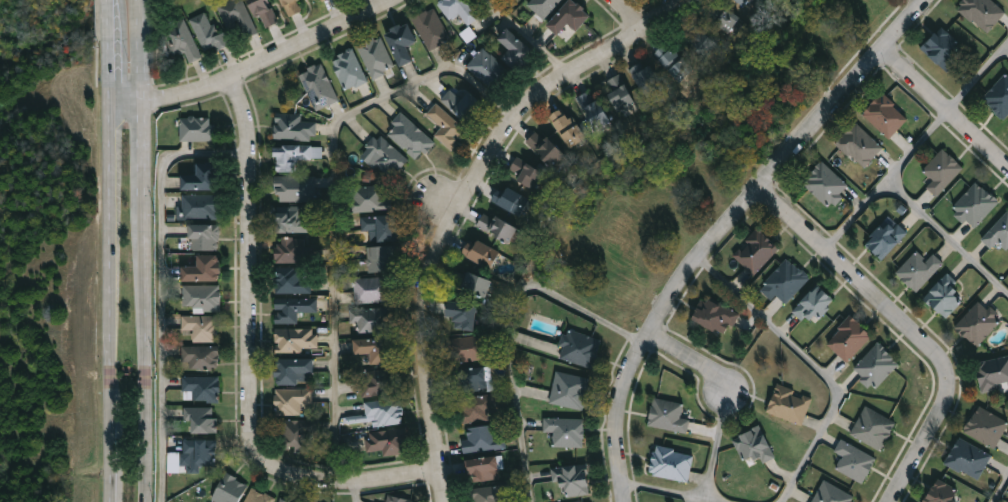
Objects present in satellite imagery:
building: (317, 1)
building: (743, 2)
building: (293, 6)
building: (543, 6)
building: (459, 9)
building: (264, 12)
building: (982, 13)
road: (626, 15)
building: (718, 15)
building: (568, 16)
building: (237, 17)
building: (431, 29)
building: (207, 33)
road: (529, 34)
building: (182, 41)
building: (401, 43)
building: (705, 44)
road: (110, 49)
road: (139, 49)
building: (943, 49)
building: (515, 50)
building: (375, 56)
building: (674, 62)
road: (254, 65)
building: (349, 70)
building: (489, 70)
road: (976, 78)
building: (648, 79)
building: (319, 87)
building: (618, 92)
building: (999, 97)
building: (463, 105)
building: (594, 109)
road: (946, 112)
building: (885, 115)
building: (447, 127)
building: (568, 127)
building: (294, 128)
building: (197, 129)
building: (409, 137)
building: (859, 145)
building: (545, 148)
building: (294, 156)
building: (386, 156)
building: (942, 172)
building: (526, 173)
building: (200, 177)
road: (885, 181)
building: (825, 185)
building: (295, 189)
road: (333, 193)
road: (434, 195)
road: (450, 200)
building: (510, 200)
building: (369, 201)
building: (975, 206)
building: (201, 207)
building: (291, 221)
building: (497, 227)
building: (382, 228)
road: (728, 230)
building: (998, 234)
road: (947, 237)
building: (205, 238)
building: (885, 239)
building: (292, 251)
building: (756, 252)
building: (481, 254)
building: (381, 259)
building: (203, 269)
building: (919, 271)
building: (293, 281)
building: (785, 283)
road: (160, 285)
building: (476, 286)
building: (372, 290)
building: (946, 297)
building: (201, 298)
road: (112, 300)
road: (145, 300)
building: (814, 305)
building: (293, 308)
building: (462, 315)
building: (715, 316)
building: (375, 319)
building: (978, 323)
road: (508, 324)
building: (201, 328)
road: (902, 331)
building: (849, 339)
building: (296, 340)
building: (471, 348)
building: (580, 349)
building: (375, 350)
road: (250, 355)
building: (200, 358)
road: (691, 358)
building: (876, 366)
road: (815, 367)
building: (294, 371)
building: (993, 374)
building: (474, 379)
building: (376, 383)
building: (202, 388)
building: (570, 390)
building: (292, 401)
building: (789, 405)
building: (478, 409)
building: (384, 412)
building: (668, 415)
building: (201, 419)
building: (986, 427)
building: (873, 428)
building: (566, 431)
building: (298, 436)
building: (481, 439)
building: (388, 441)
building: (754, 445)
building: (201, 450)
road: (716, 450)
building: (968, 459)
building: (854, 461)
building: (671, 463)
building: (483, 469)
building: (572, 479)
building: (229, 489)
road: (352, 489)
road: (1000, 489)
road: (666, 491)
building: (942, 492)
building: (492, 494)
building: (832, 494)
building: (258, 496)
building: (397, 499)
building: (282, 501)

